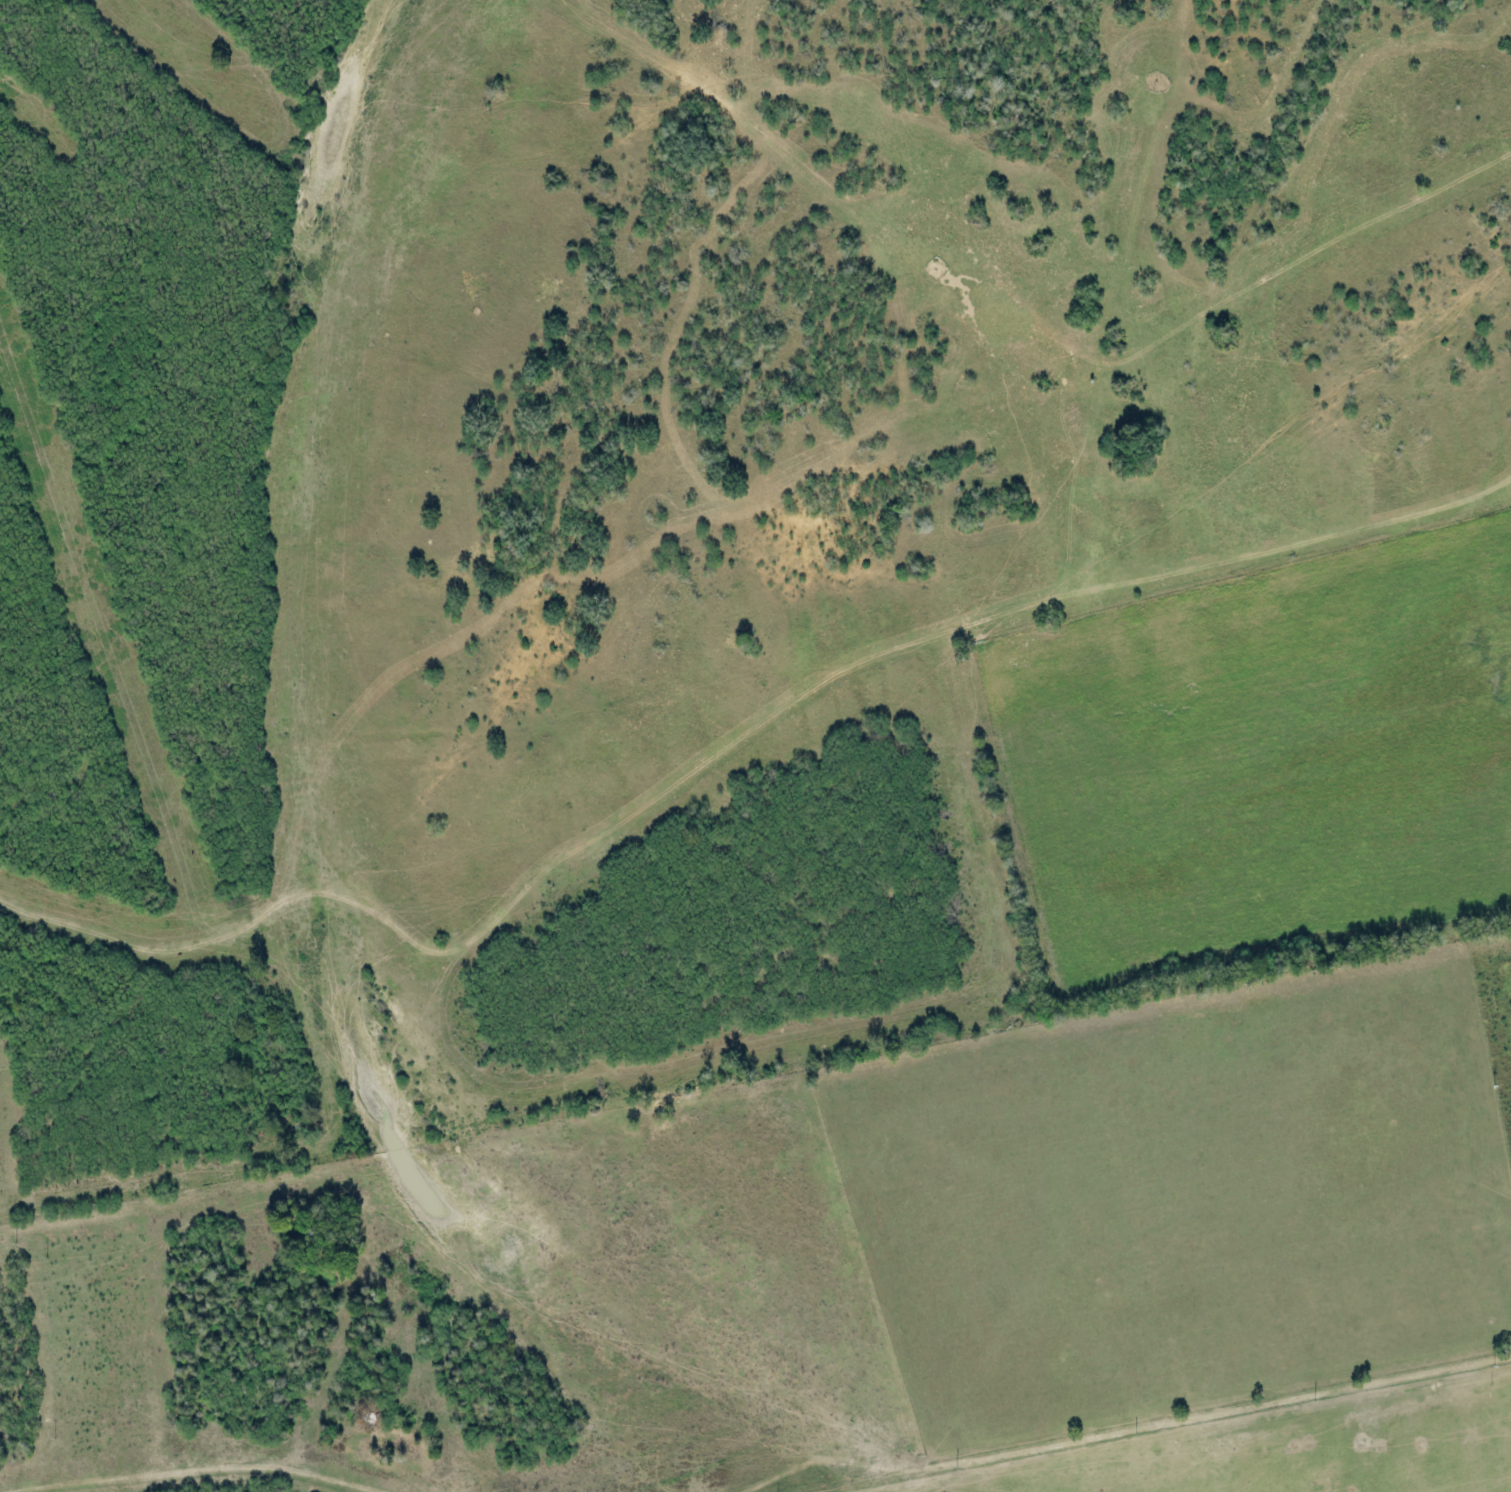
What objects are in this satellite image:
road: (1490, 480)

